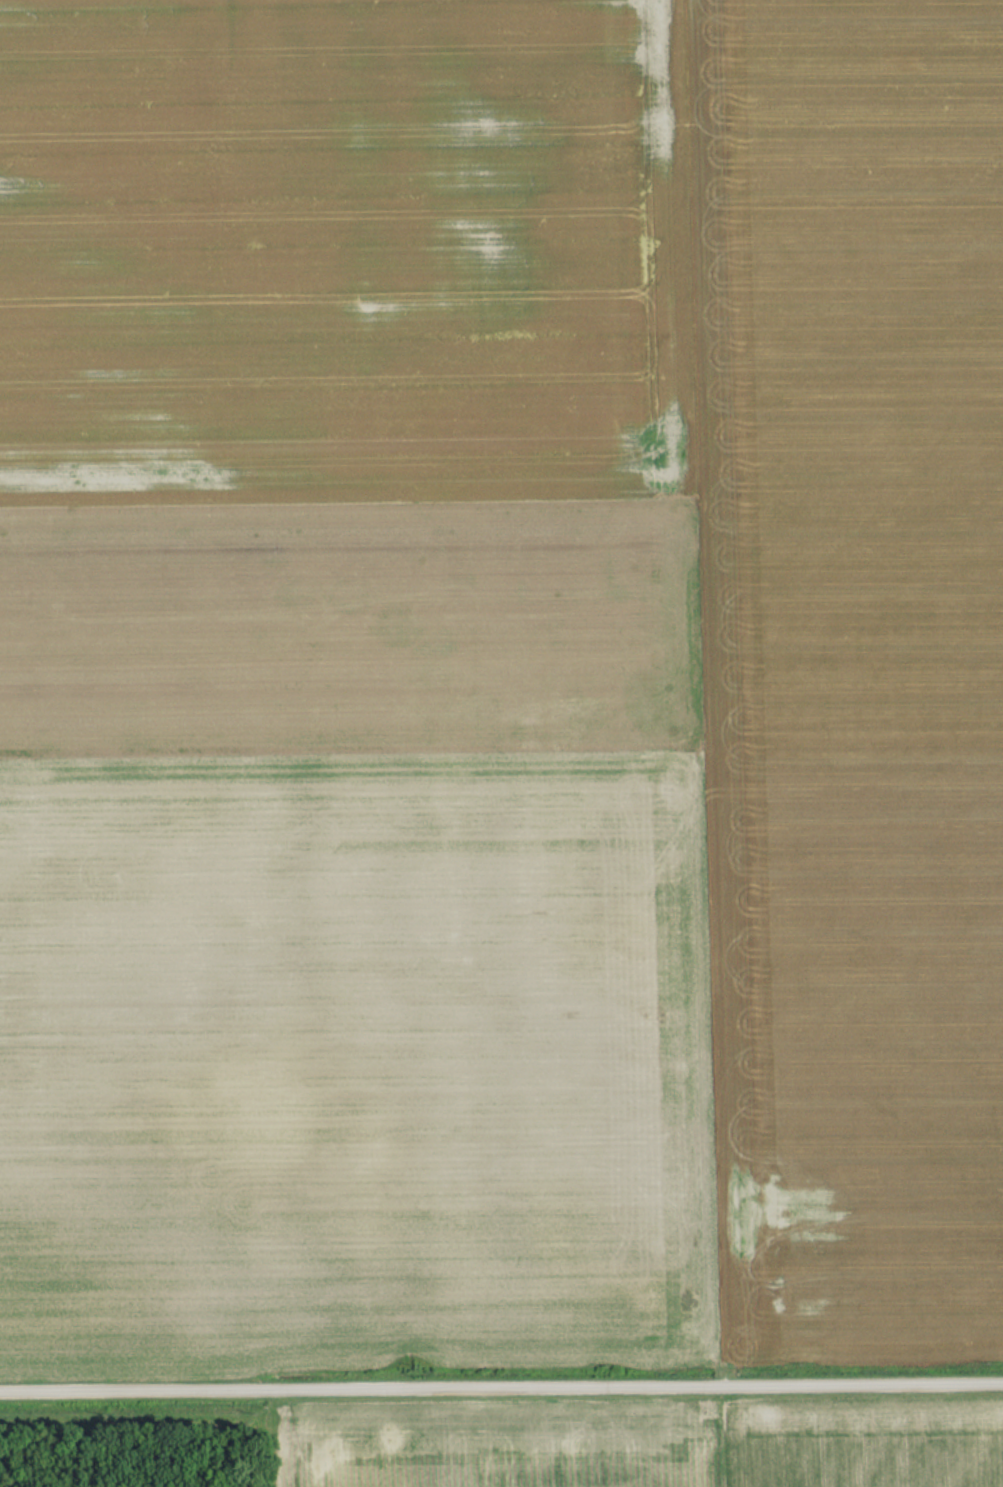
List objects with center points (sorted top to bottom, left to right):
crop: (848, 668)
crop: (346, 690)
road: (501, 1380)
crop: (861, 1447)
crop: (500, 1451)

